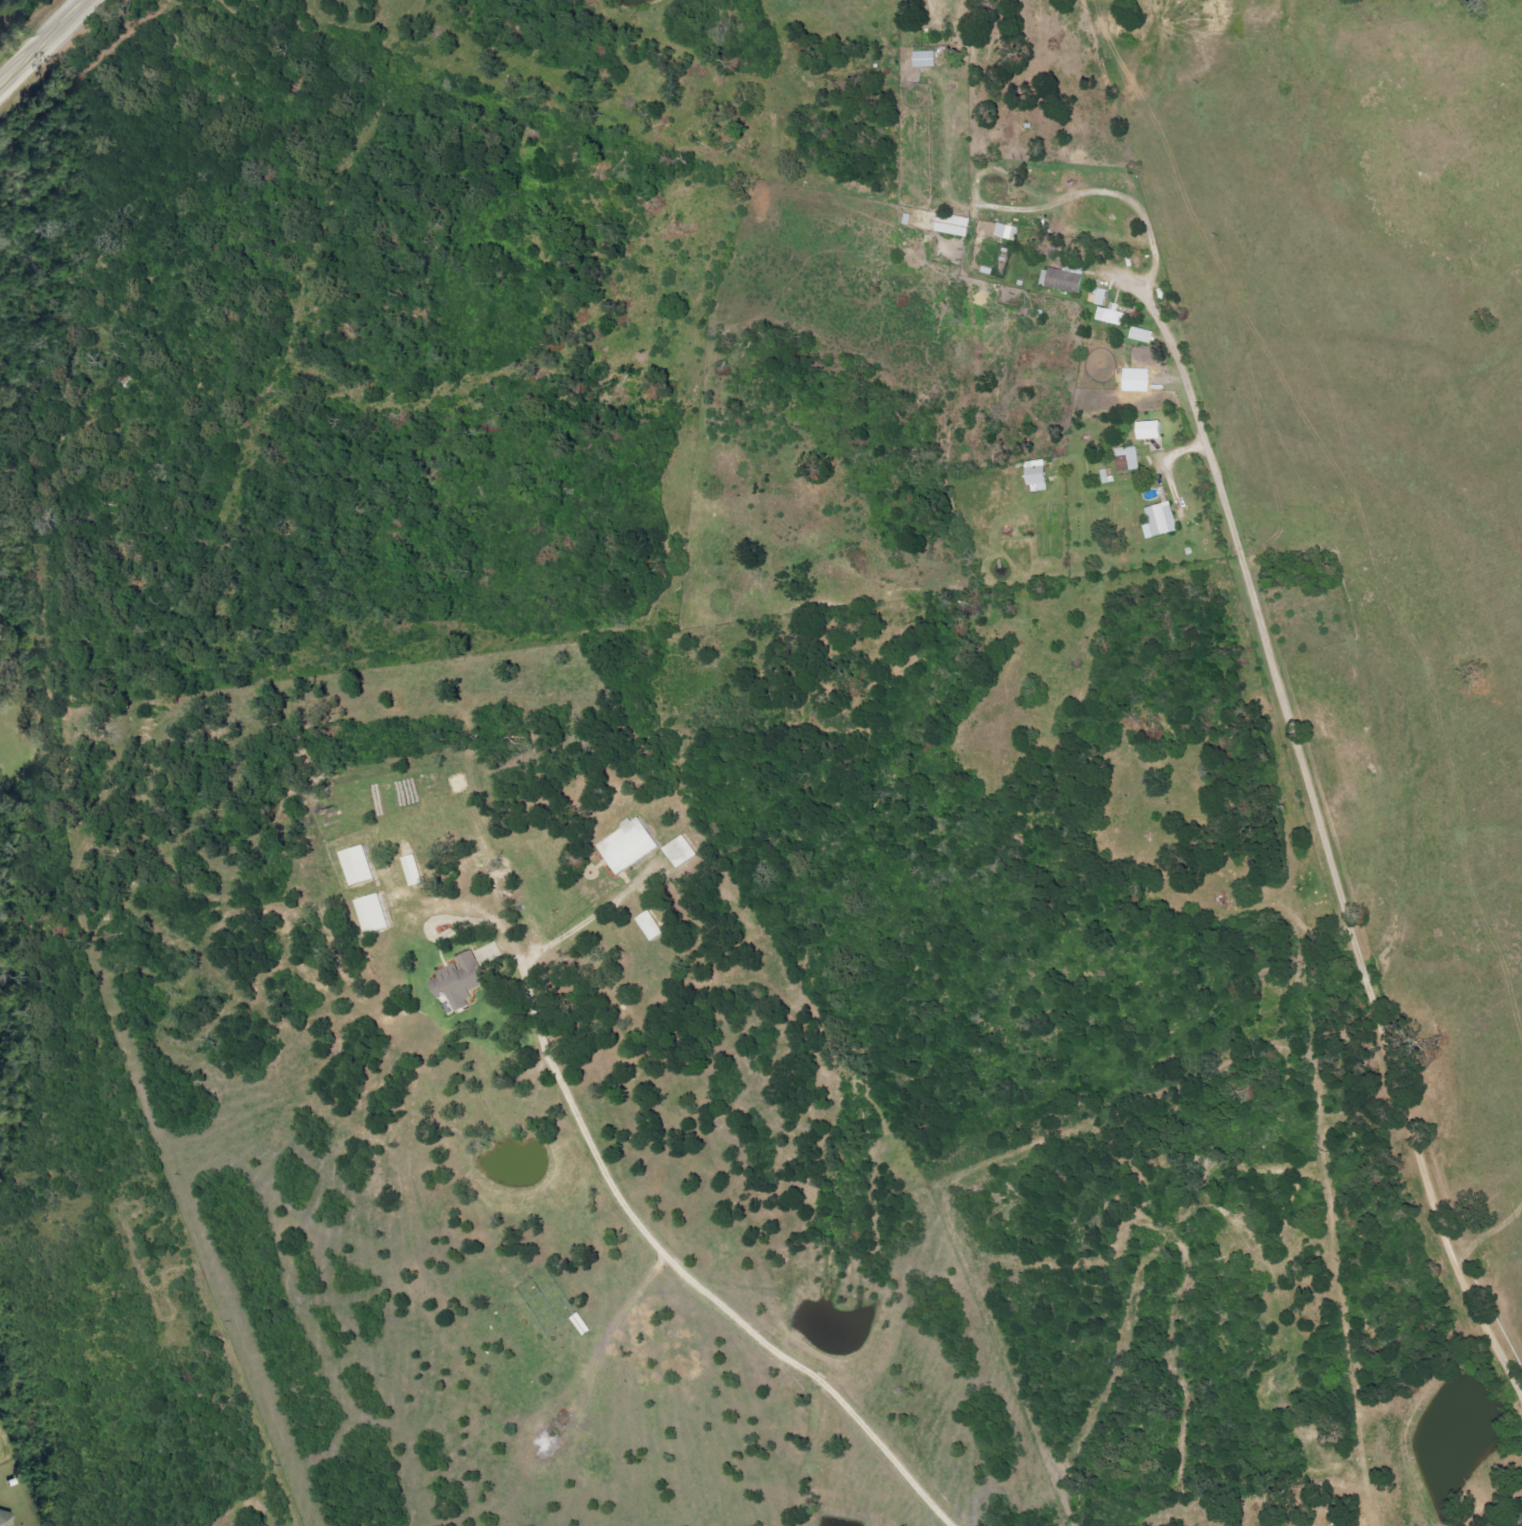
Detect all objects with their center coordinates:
road: (46, 45)
building: (925, 59)
building: (953, 224)
building: (1007, 232)
building: (1061, 279)
building: (1097, 296)
building: (1111, 315)
building: (1142, 335)
building: (1149, 430)
building: (1127, 459)
building: (1036, 476)
building: (1160, 520)
park: (1306, 610)
road: (1328, 845)
building: (627, 846)
building: (356, 865)
building: (412, 870)
building: (372, 913)
building: (650, 926)
building: (459, 981)
road: (639, 1225)
building: (5, 1519)

